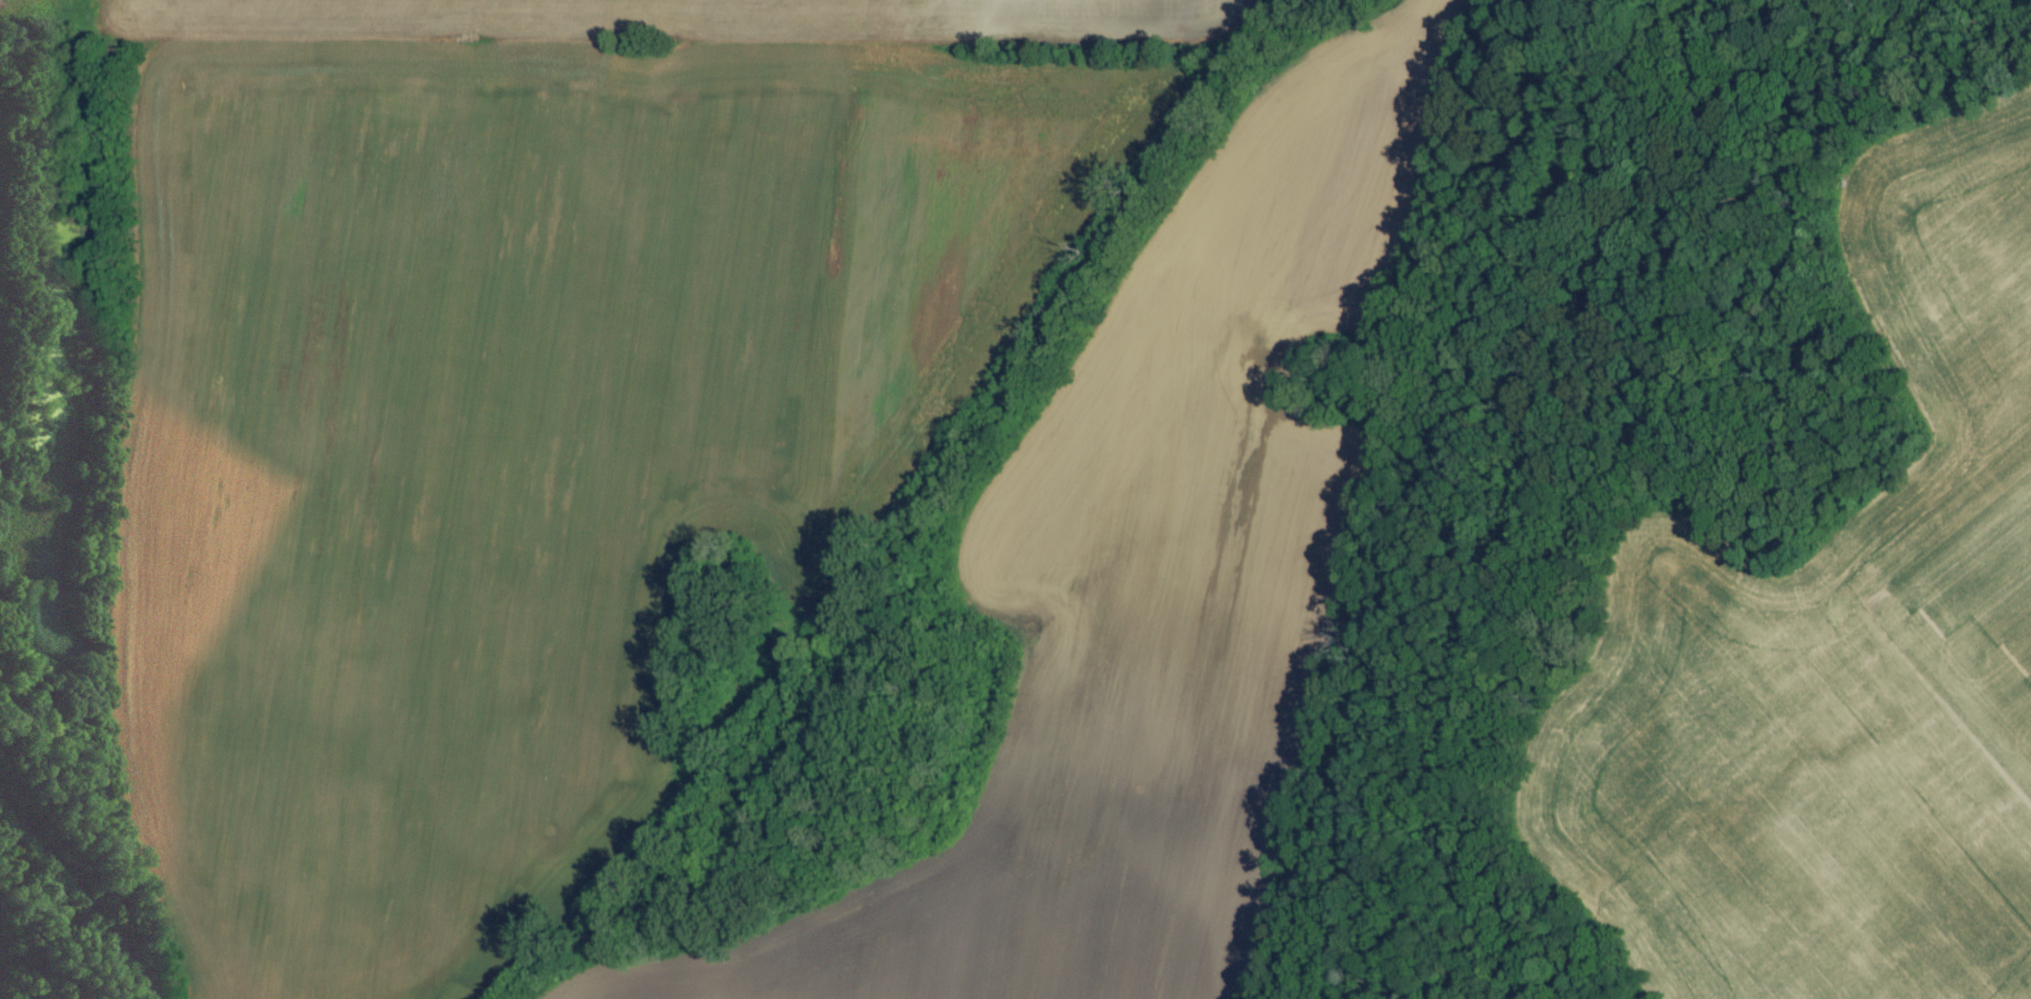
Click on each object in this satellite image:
road: (2030, 0)
road: (1766, 12)

